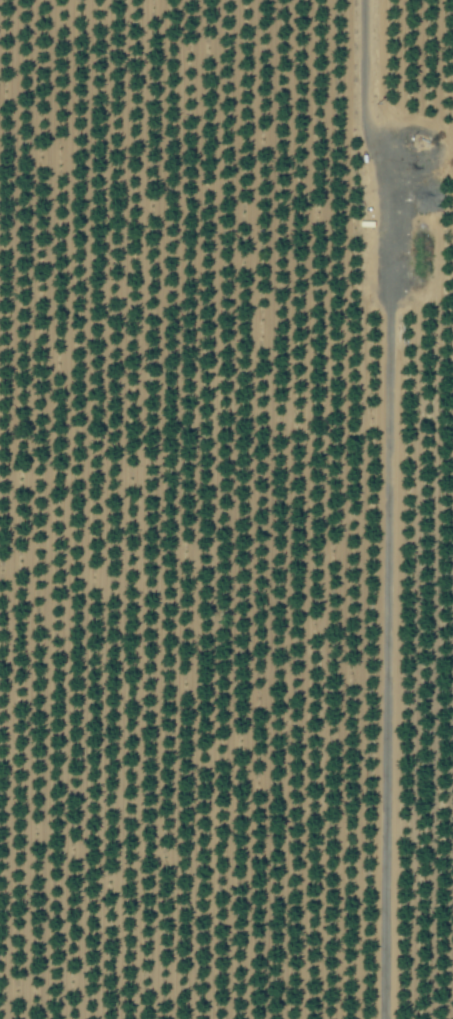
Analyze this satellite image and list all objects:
road: (365, 59)

